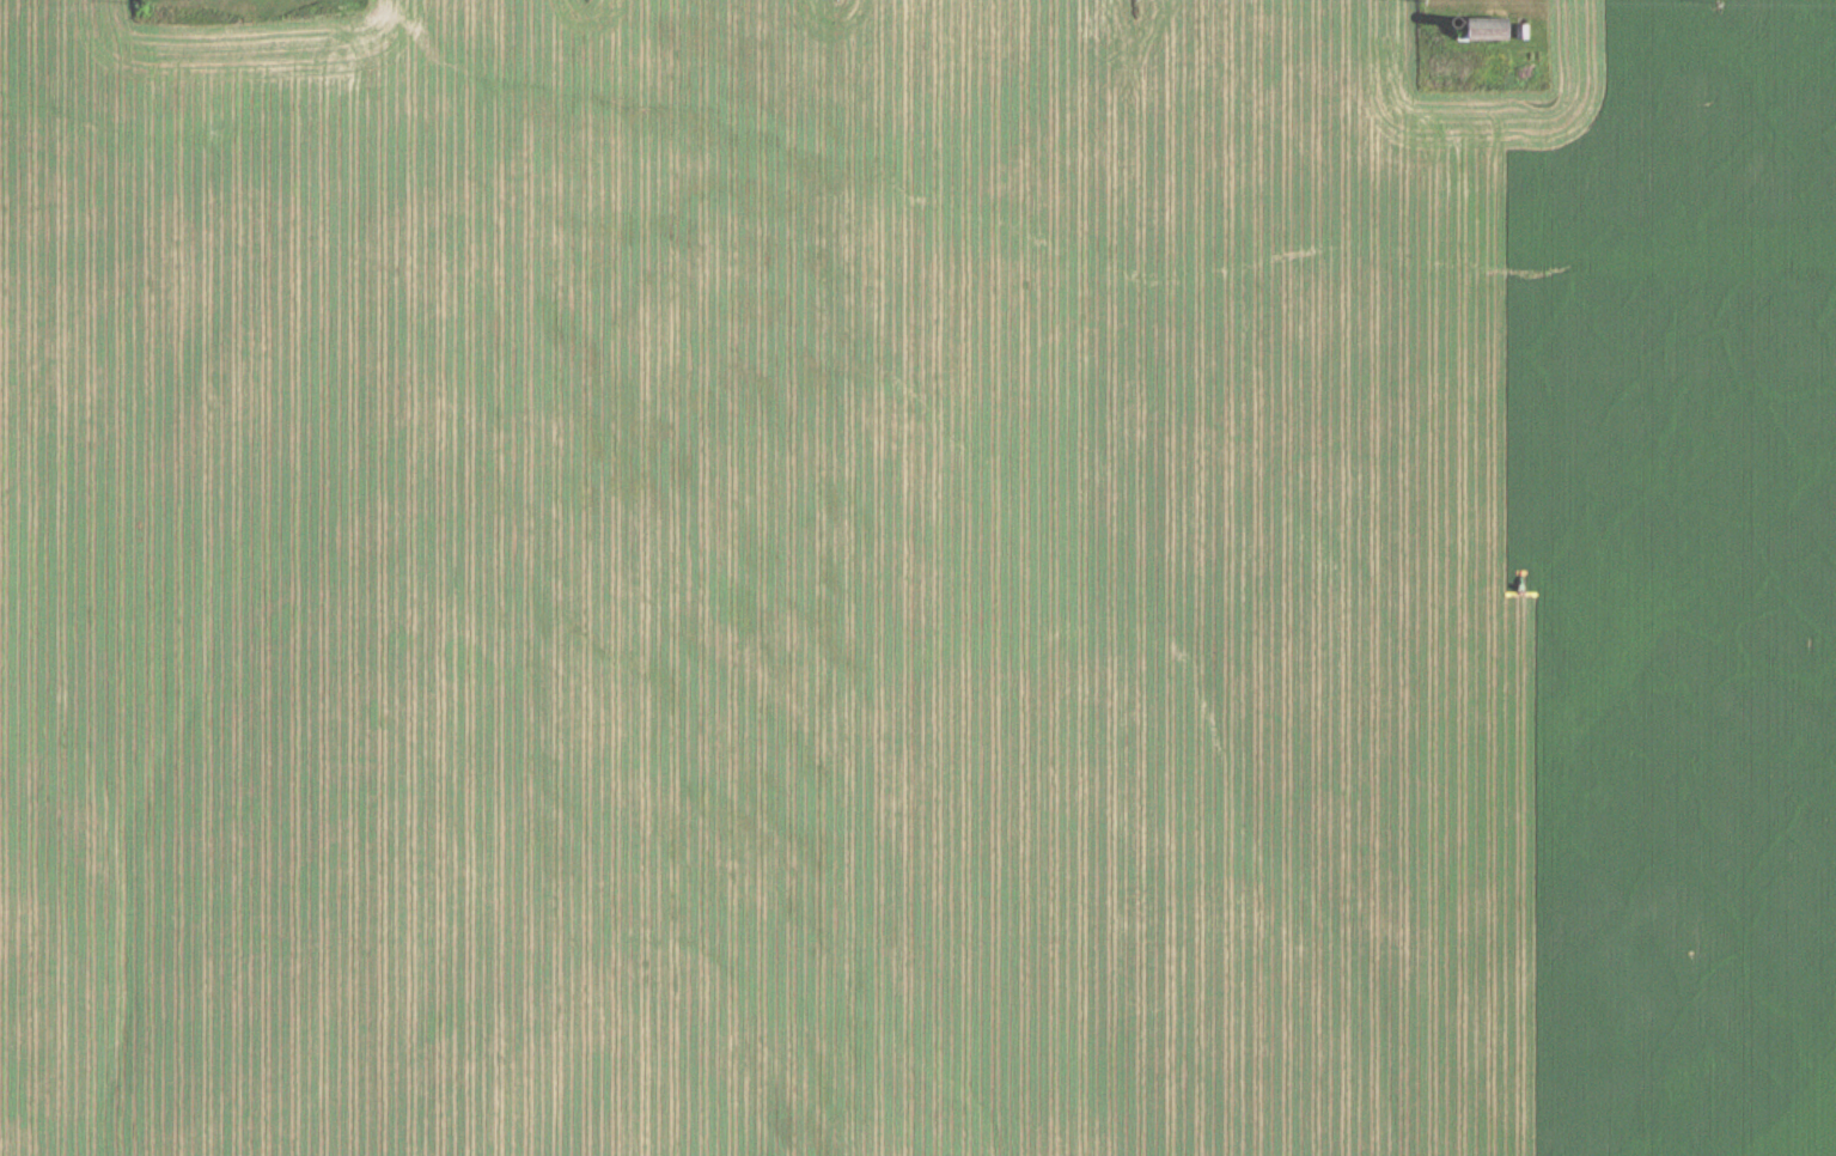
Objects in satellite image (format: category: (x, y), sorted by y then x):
building: (1490, 31)

